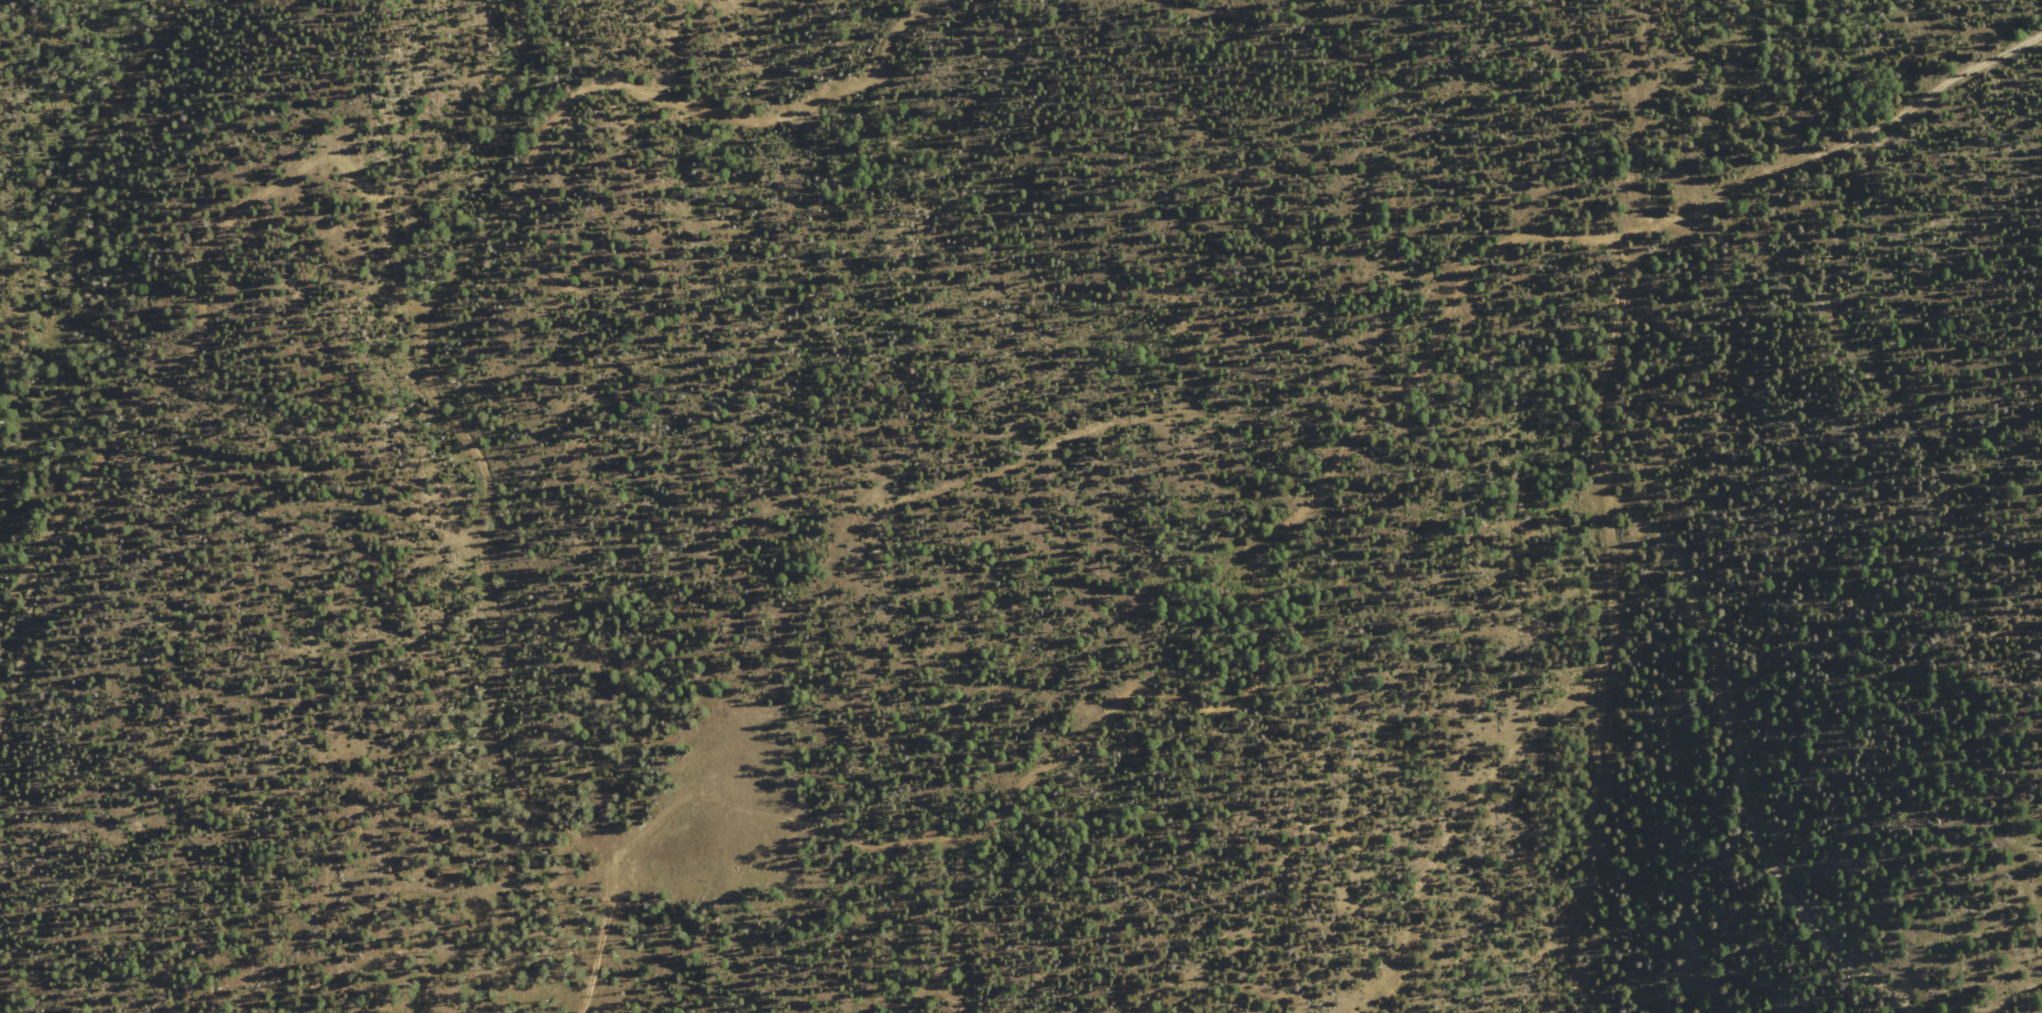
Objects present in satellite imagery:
road: (390, 246)
road: (1683, 607)

